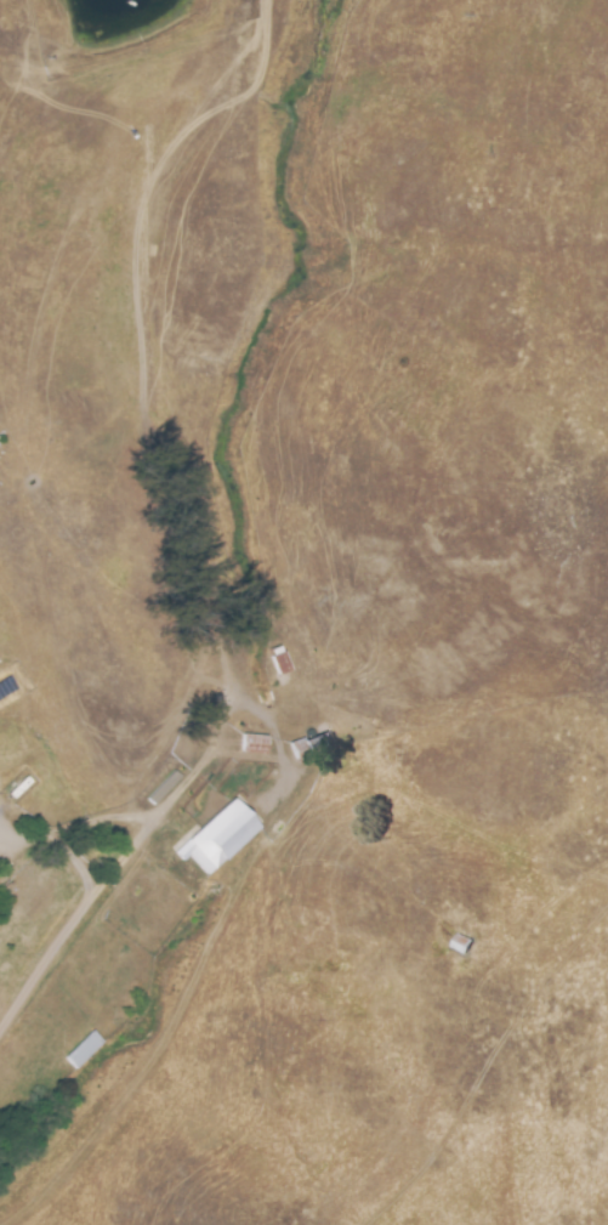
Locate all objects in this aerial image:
building: (279, 664)
building: (254, 744)
building: (309, 748)
building: (163, 788)
building: (218, 838)
road: (86, 908)
building: (461, 943)
building: (84, 1049)

